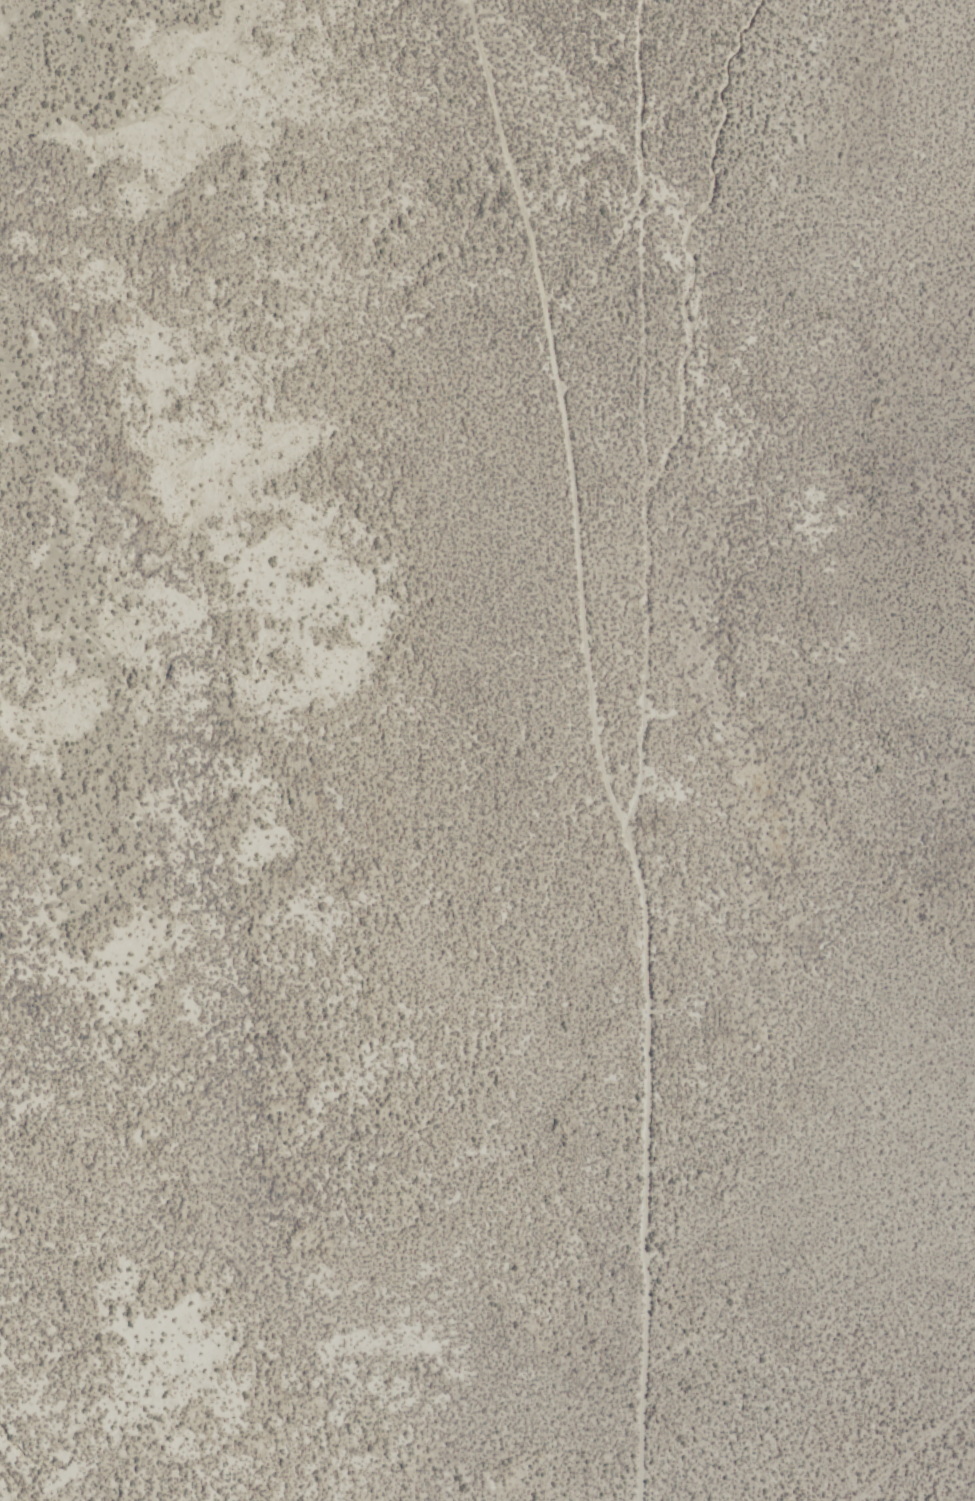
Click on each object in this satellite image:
road: (597, 747)
road: (914, 1445)

